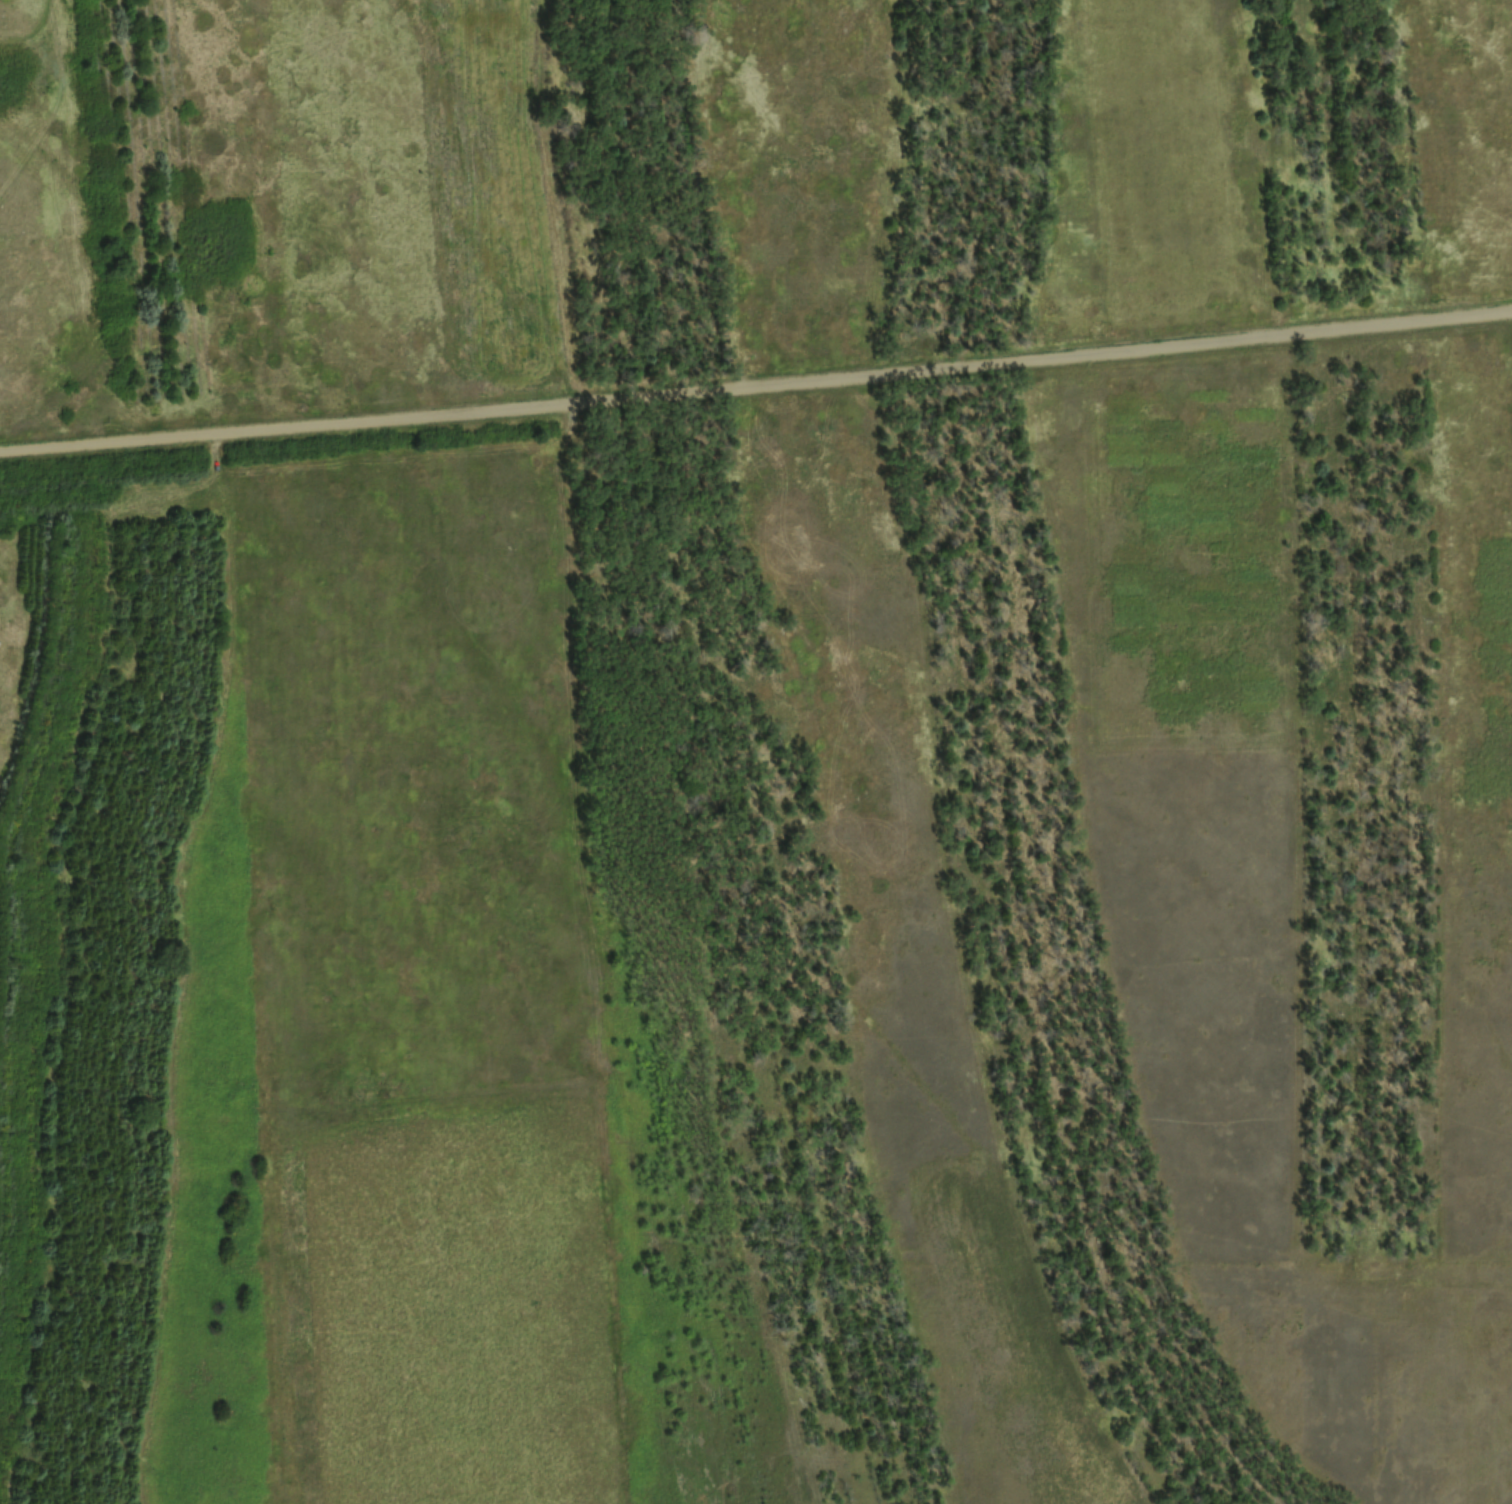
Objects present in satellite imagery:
road: (756, 378)

